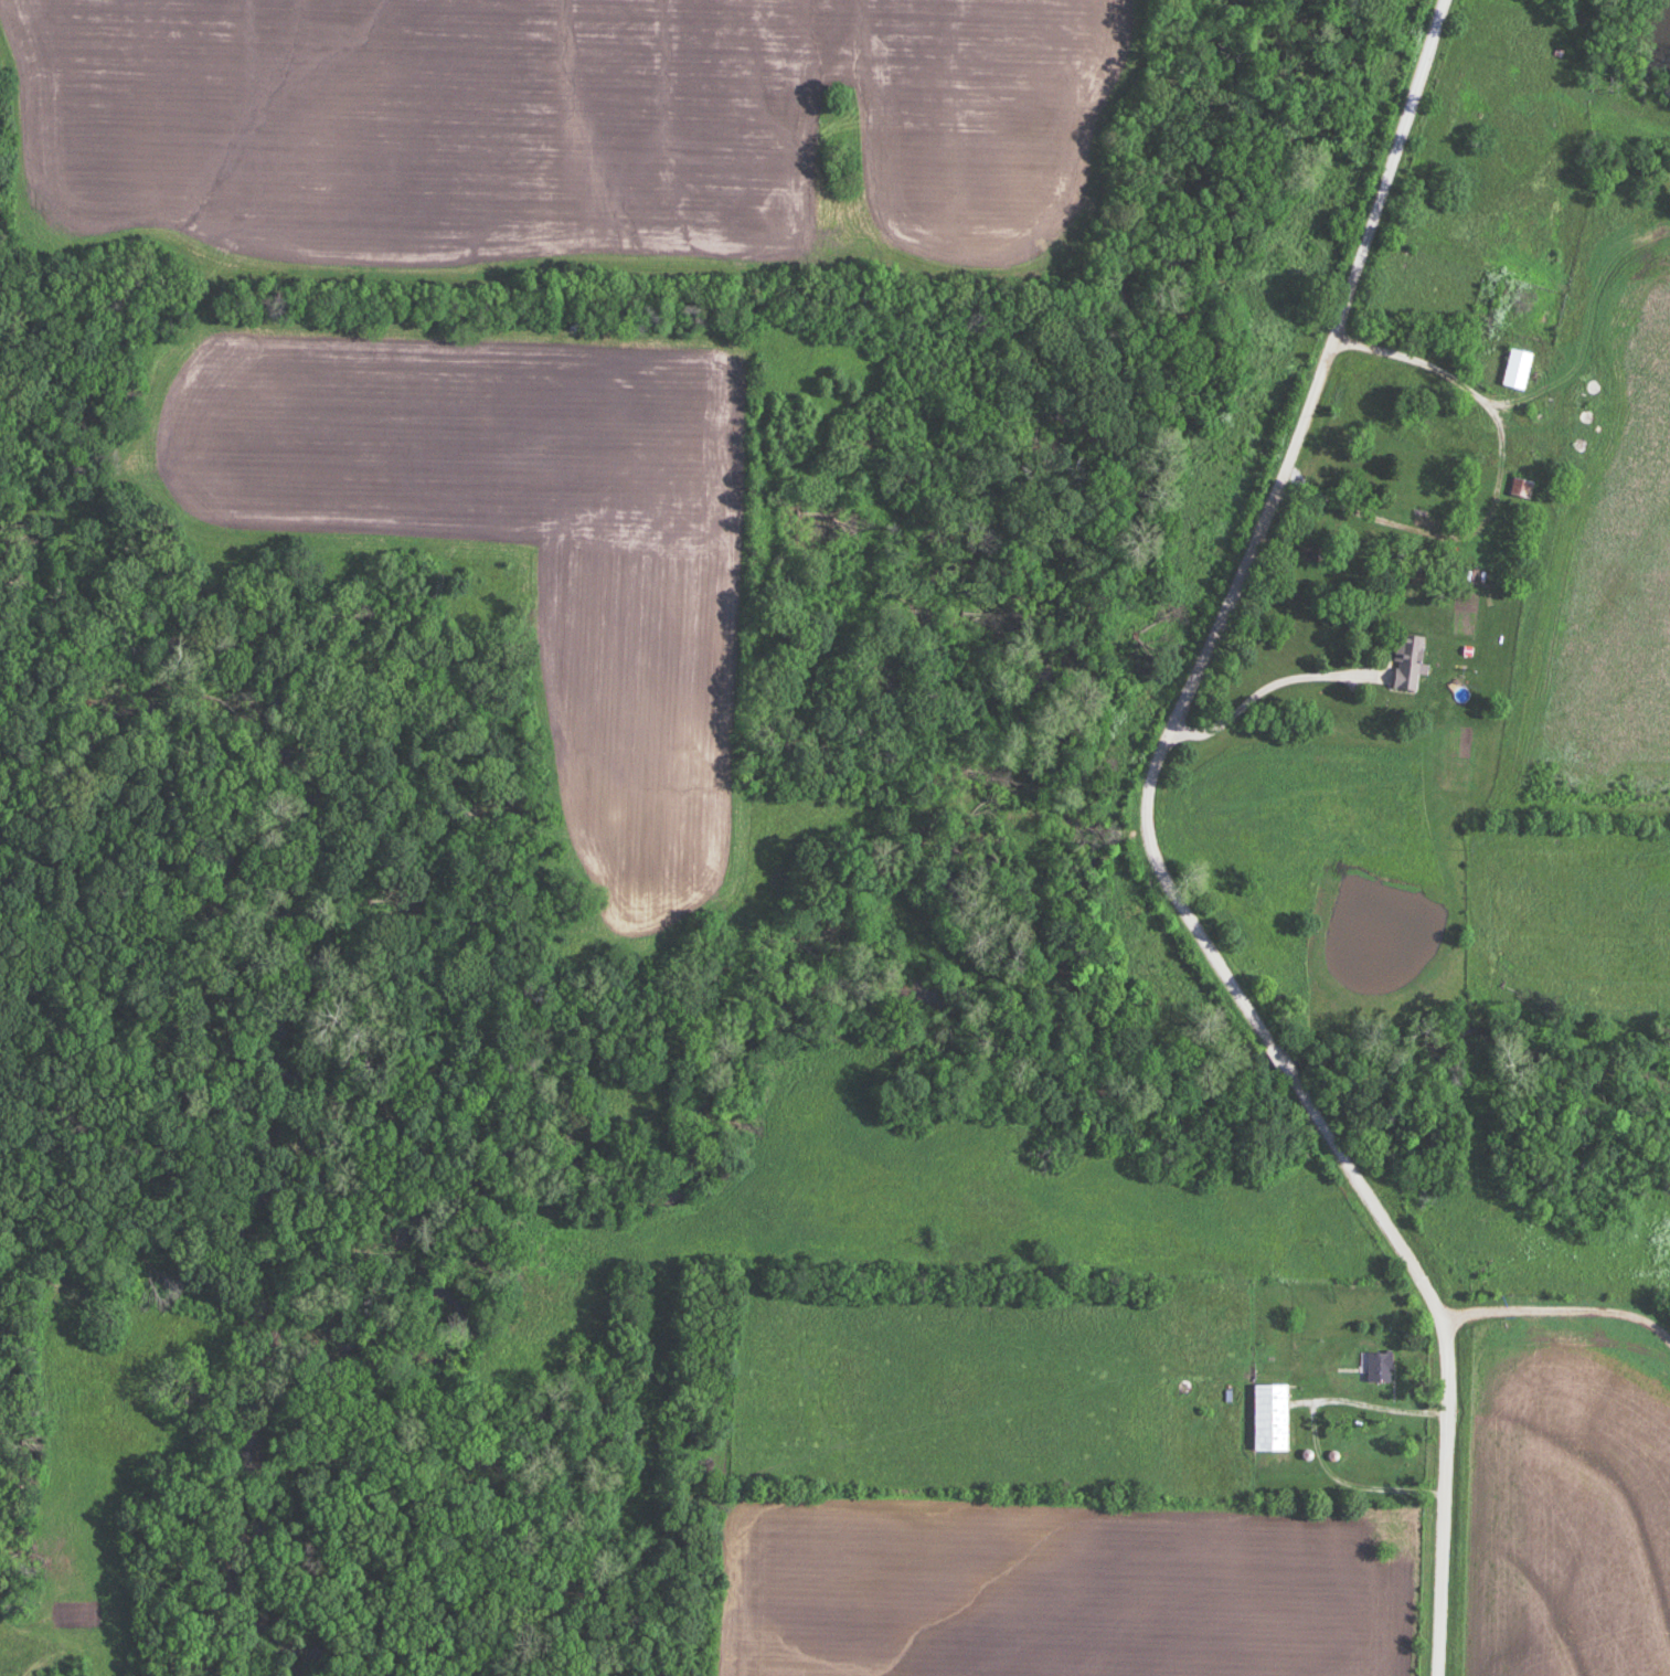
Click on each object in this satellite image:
road: (1429, 360)
building: (1587, 415)
building: (1522, 486)
building: (1407, 659)
road: (1263, 685)
road: (1153, 853)
road: (1557, 1307)
building: (1379, 1365)
building: (1270, 1415)
road: (1312, 1429)

